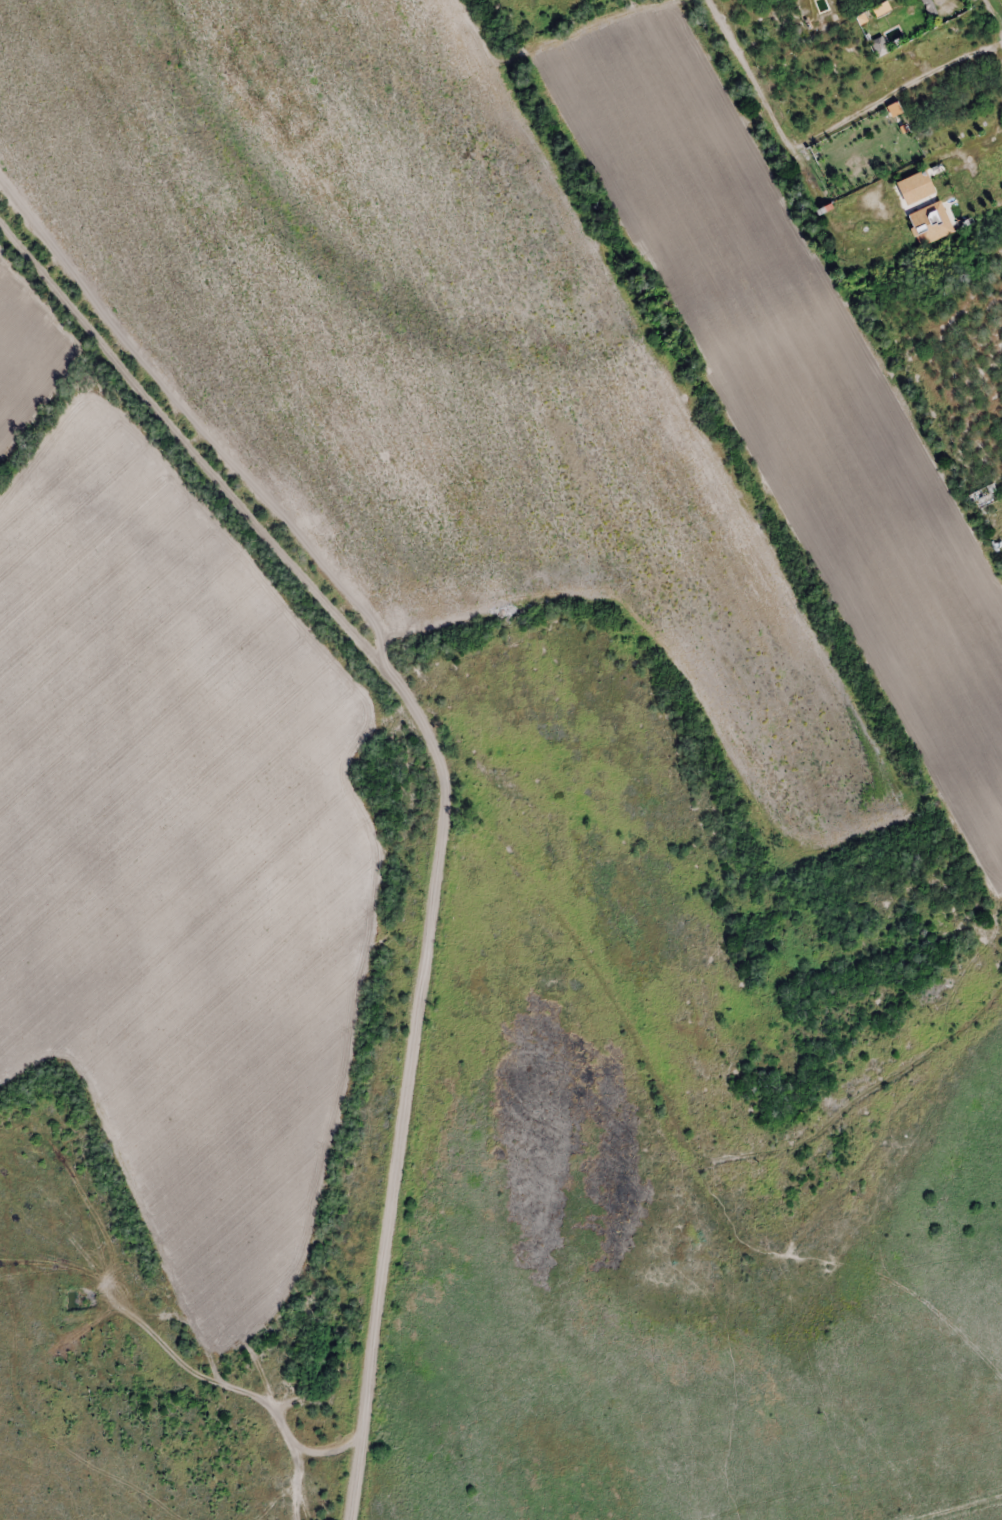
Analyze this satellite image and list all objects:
road: (769, 95)

